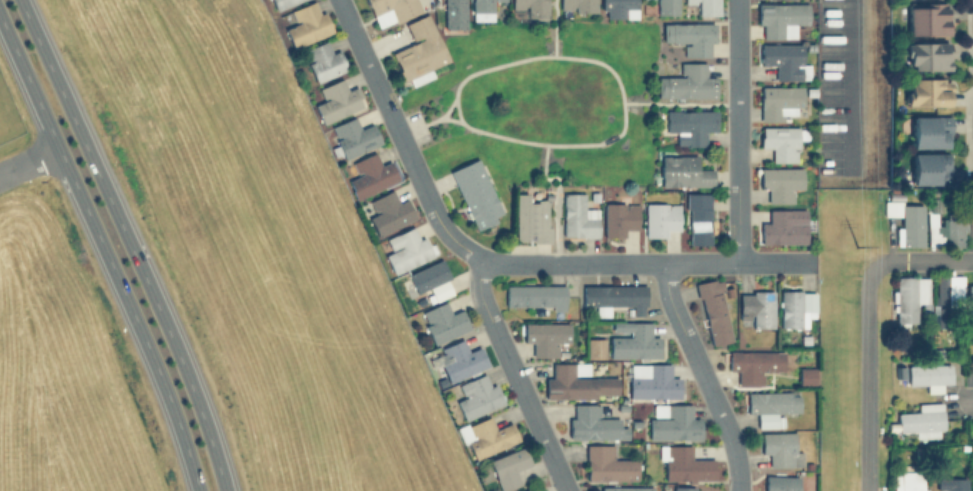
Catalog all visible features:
building: (690, 1)
building: (281, 3)
building: (579, 5)
building: (662, 7)
building: (709, 7)
building: (619, 8)
building: (528, 9)
building: (391, 10)
building: (482, 10)
building: (454, 16)
building: (781, 18)
building: (925, 18)
building: (306, 24)
road: (555, 26)
building: (690, 36)
building: (419, 51)
building: (926, 56)
building: (785, 60)
building: (322, 61)
building: (687, 83)
road: (846, 87)
building: (926, 93)
building: (337, 101)
building: (779, 101)
road: (677, 102)
park: (545, 114)
road: (450, 116)
road: (432, 118)
building: (688, 125)
road: (733, 130)
building: (930, 130)
building: (352, 138)
road: (534, 139)
building: (781, 142)
building: (929, 146)
road: (29, 161)
building: (928, 170)
building: (681, 171)
building: (369, 175)
building: (780, 183)
building: (593, 193)
building: (475, 194)
road: (554, 194)
building: (897, 203)
building: (888, 207)
building: (388, 213)
building: (577, 217)
building: (699, 218)
building: (619, 219)
building: (661, 219)
building: (531, 220)
building: (942, 225)
building: (783, 227)
building: (911, 227)
road: (129, 243)
road: (463, 246)
road: (106, 250)
building: (407, 250)
road: (773, 261)
building: (427, 274)
building: (439, 288)
building: (536, 294)
building: (614, 296)
building: (909, 299)
building: (941, 299)
building: (970, 303)
building: (757, 306)
building: (796, 306)
building: (713, 308)
building: (443, 320)
road: (868, 329)
building: (545, 335)
building: (633, 339)
building: (595, 345)
building: (461, 358)
building: (753, 363)
building: (899, 371)
building: (929, 373)
road: (704, 374)
building: (806, 374)
road: (514, 375)
building: (652, 379)
building: (576, 381)
building: (478, 394)
building: (770, 405)
building: (922, 420)
building: (673, 421)
building: (593, 422)
building: (635, 422)
building: (486, 434)
building: (781, 448)
building: (684, 462)
building: (607, 463)
building: (509, 465)
building: (910, 478)
building: (781, 481)
building: (951, 483)
building: (625, 487)
building: (683, 487)
building: (525, 489)

